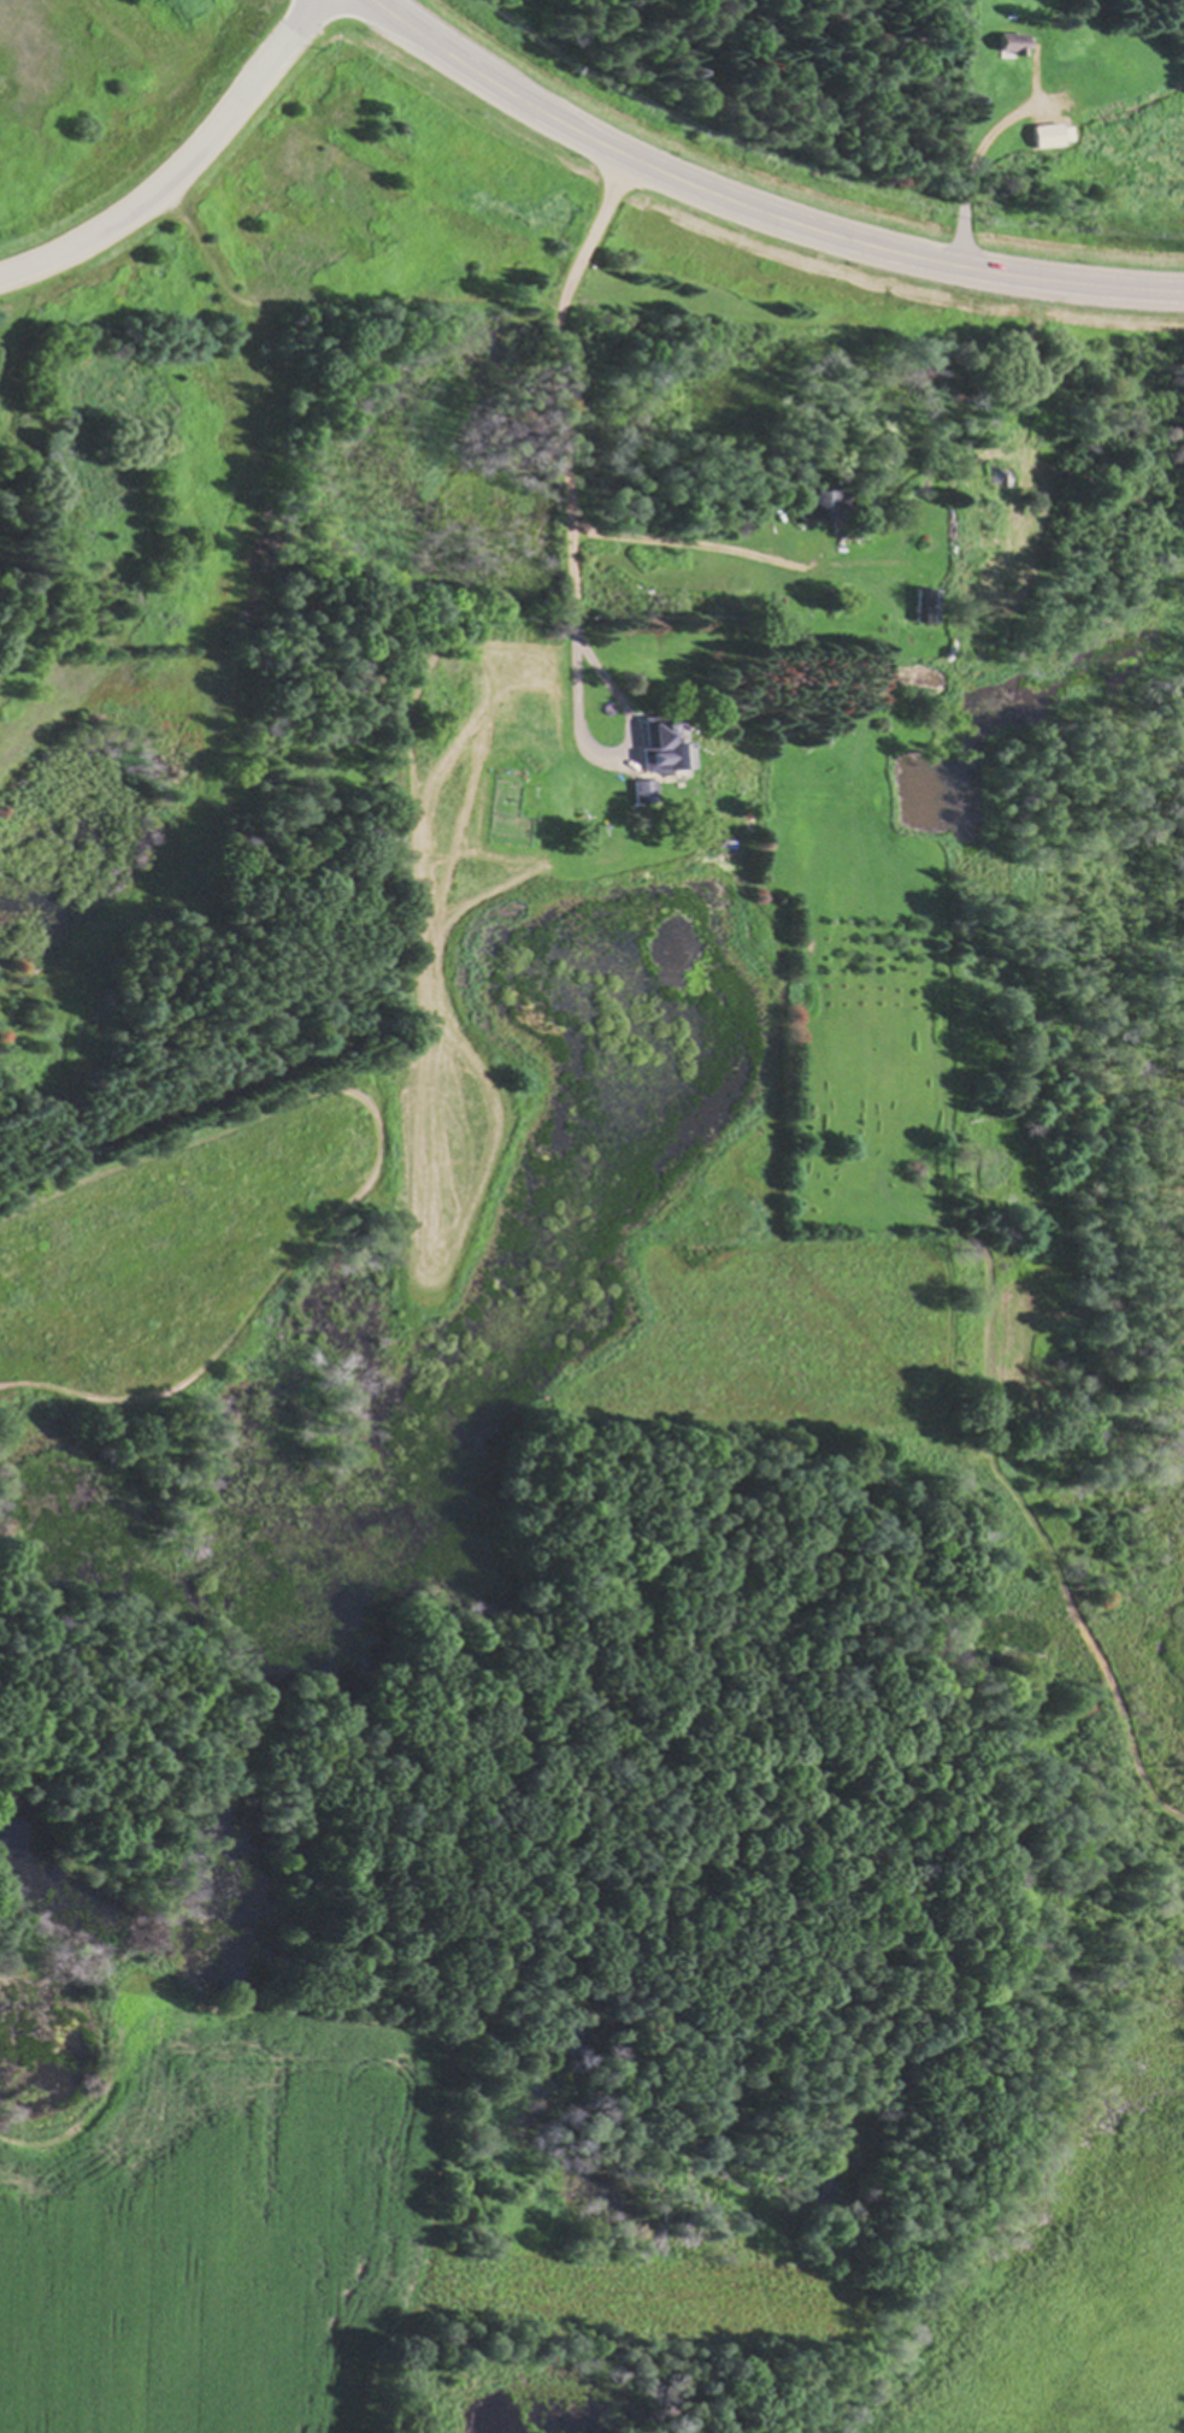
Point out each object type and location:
building: (1007, 42)
building: (1048, 135)
road: (177, 161)
road: (967, 172)
road: (755, 207)
building: (820, 505)
road: (577, 535)
building: (920, 606)
building: (662, 744)
building: (643, 791)

